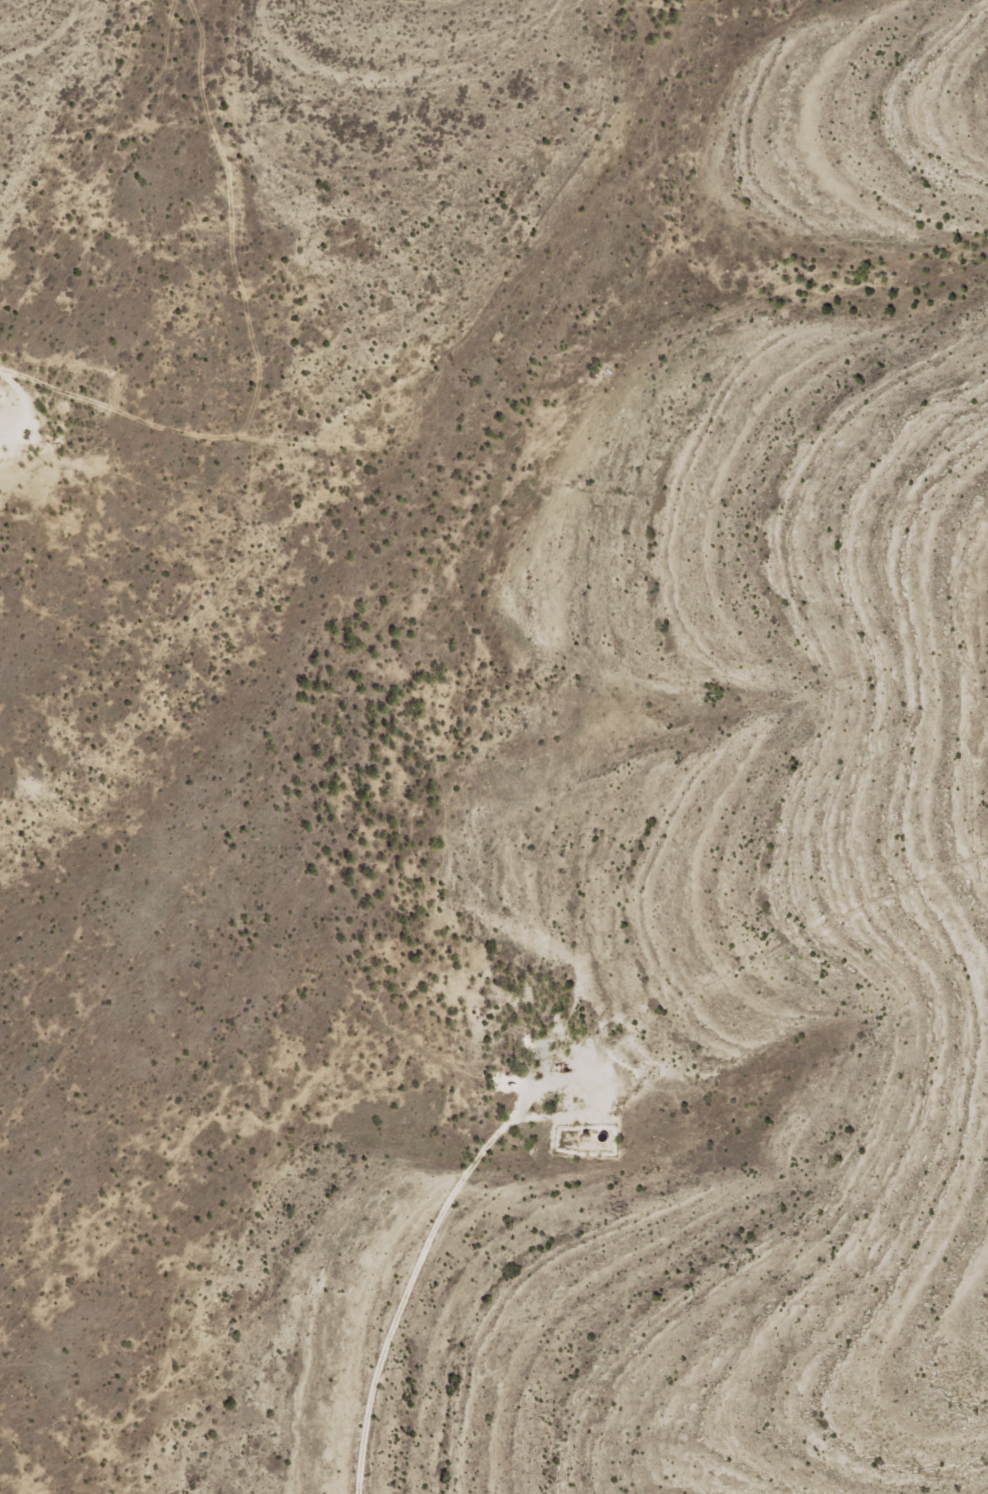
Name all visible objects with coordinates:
road: (453, 1218)

